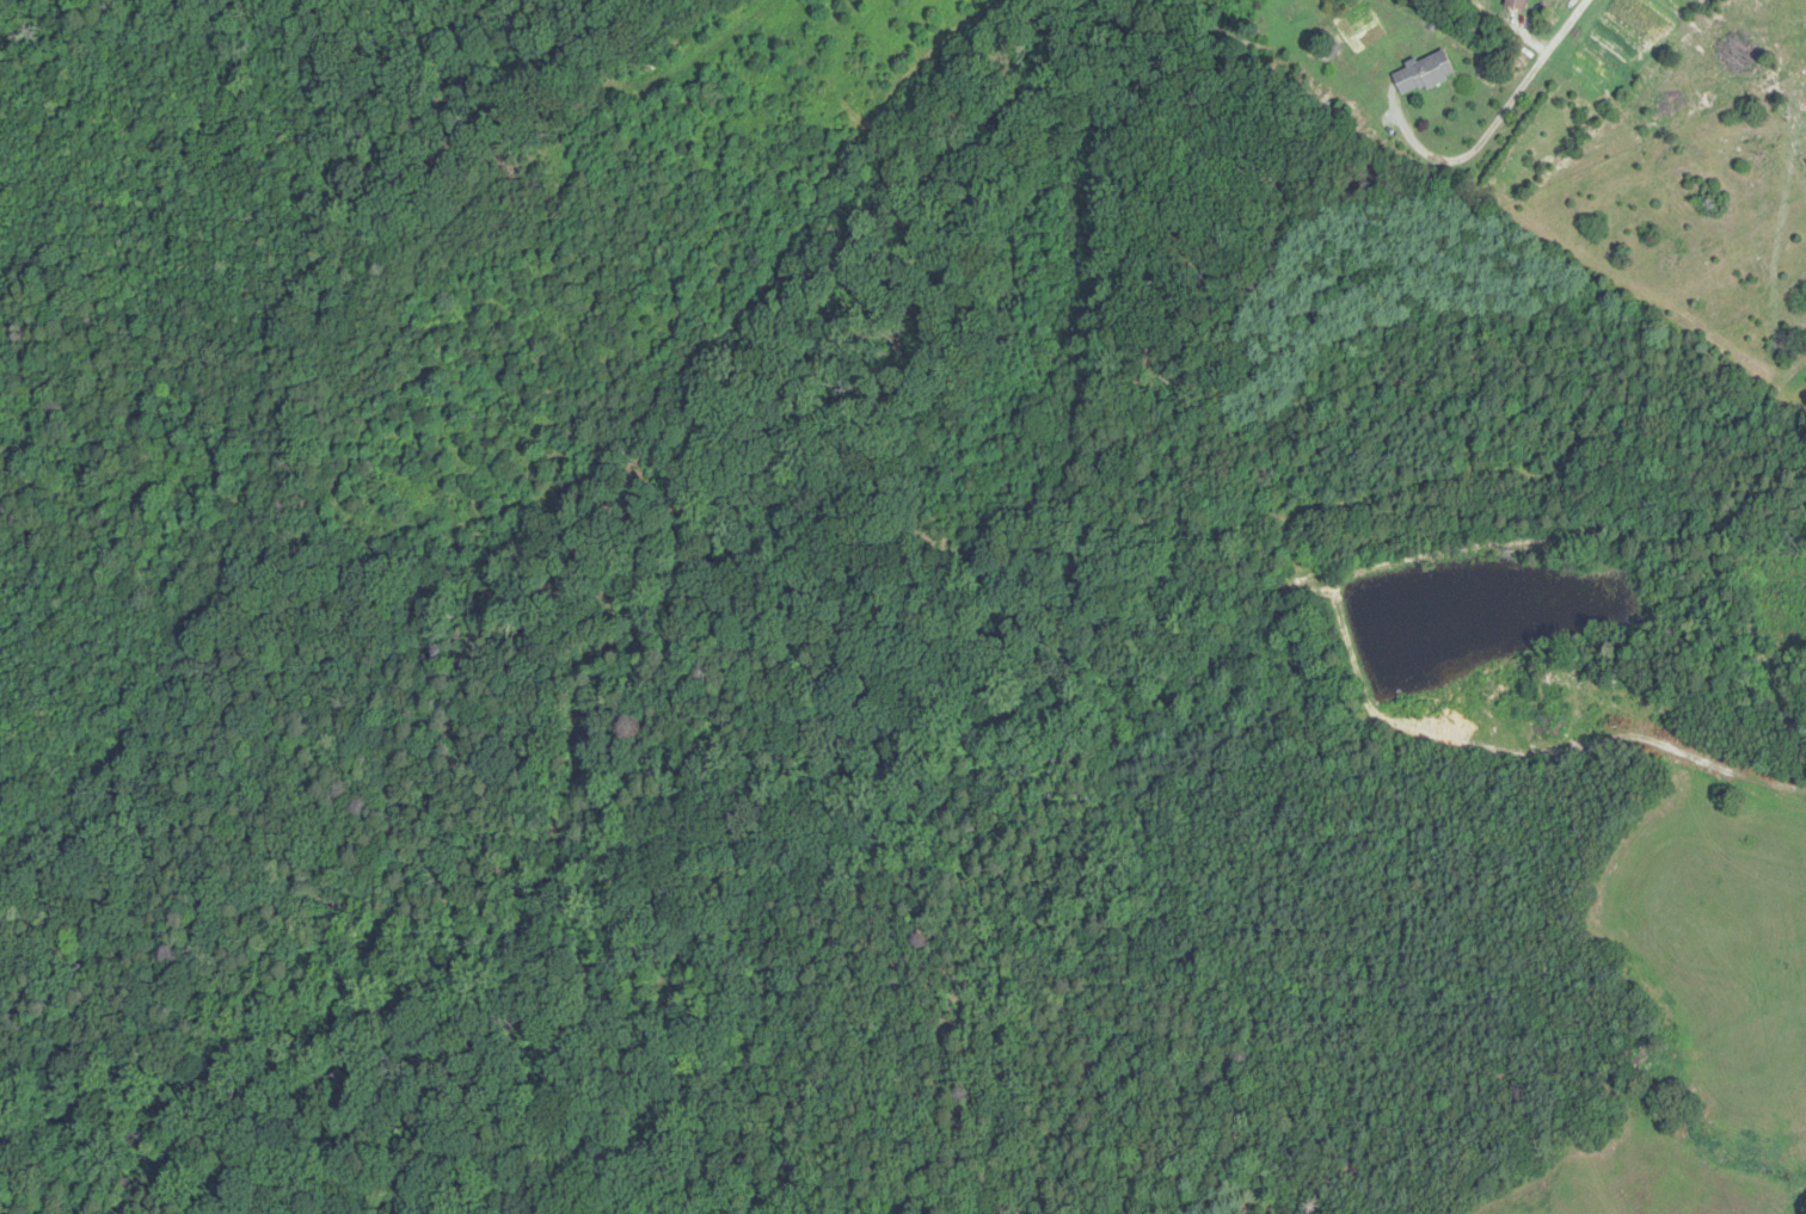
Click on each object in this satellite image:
building: (1424, 75)
road: (1529, 75)
road: (1417, 143)

